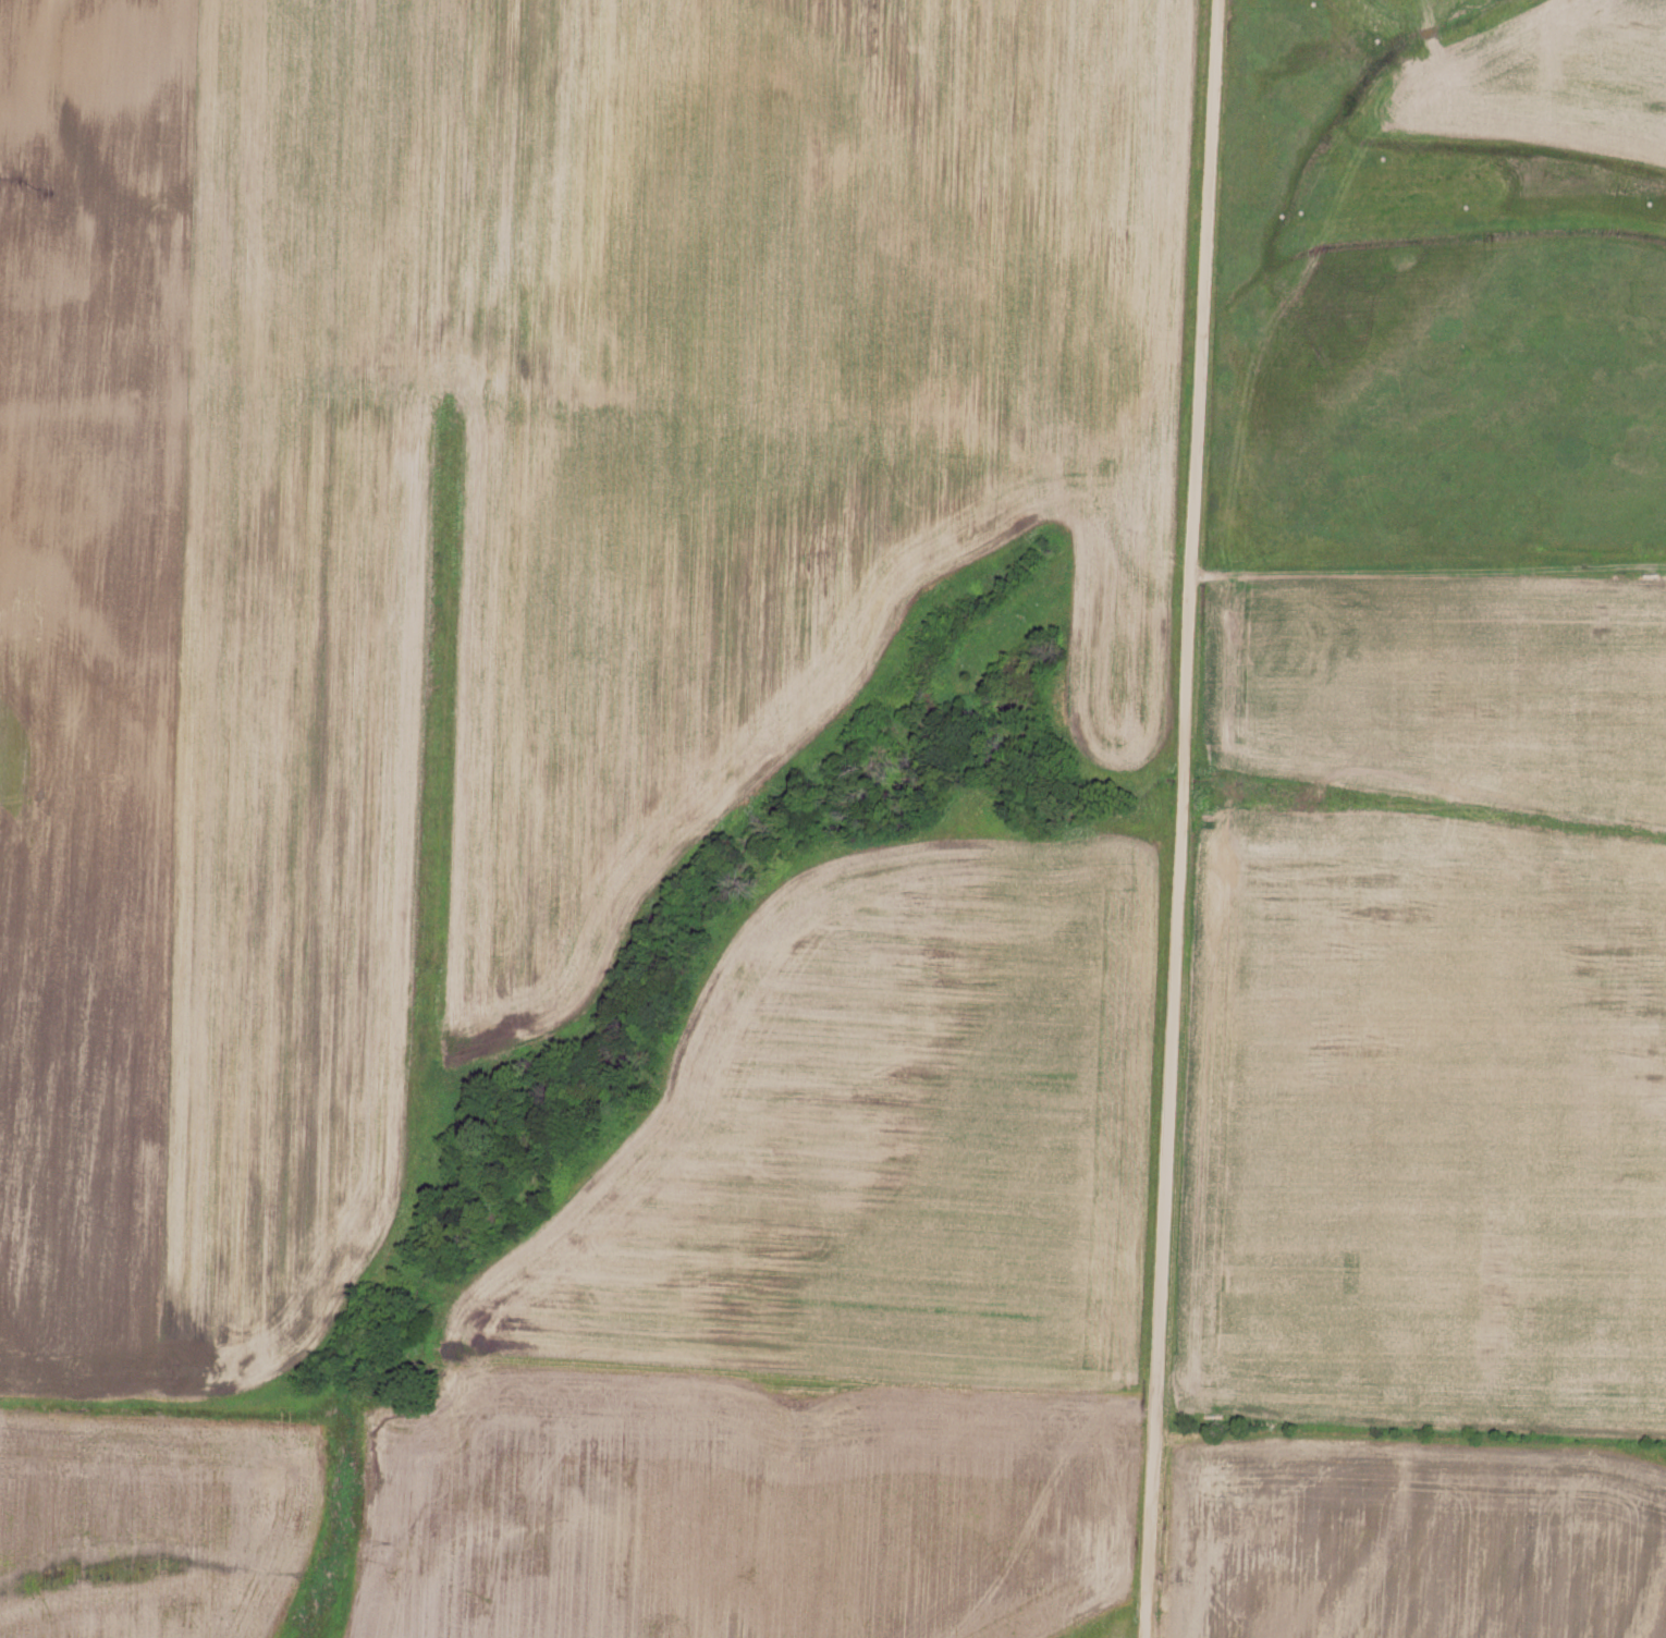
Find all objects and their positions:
road: (1183, 819)

